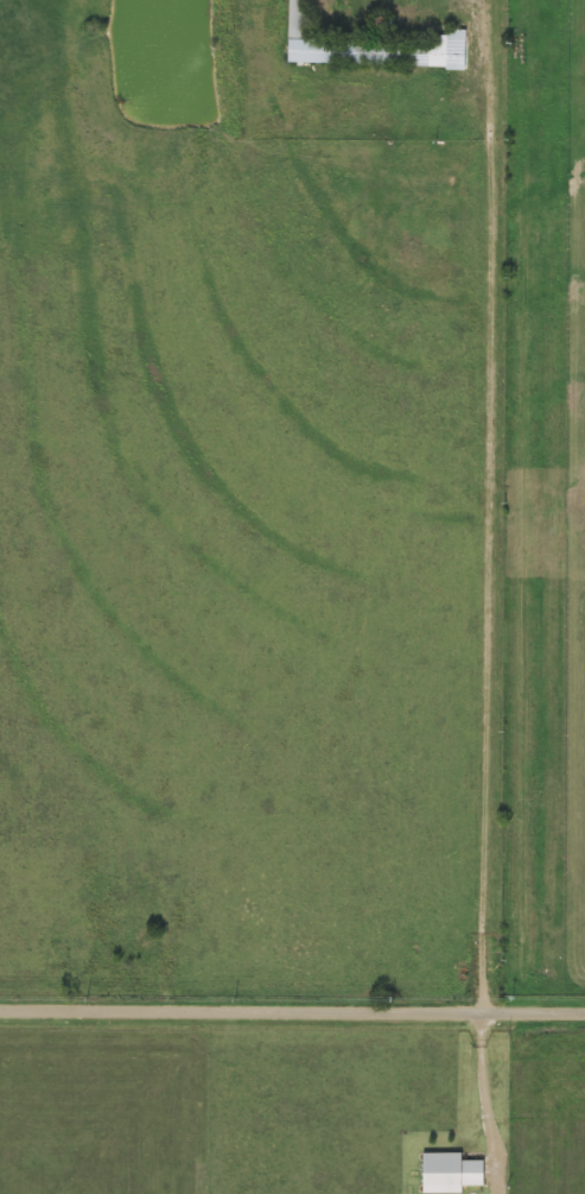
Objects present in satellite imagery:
building: (373, 48)
road: (478, 510)
road: (292, 1015)
road: (482, 1089)
building: (451, 1171)

